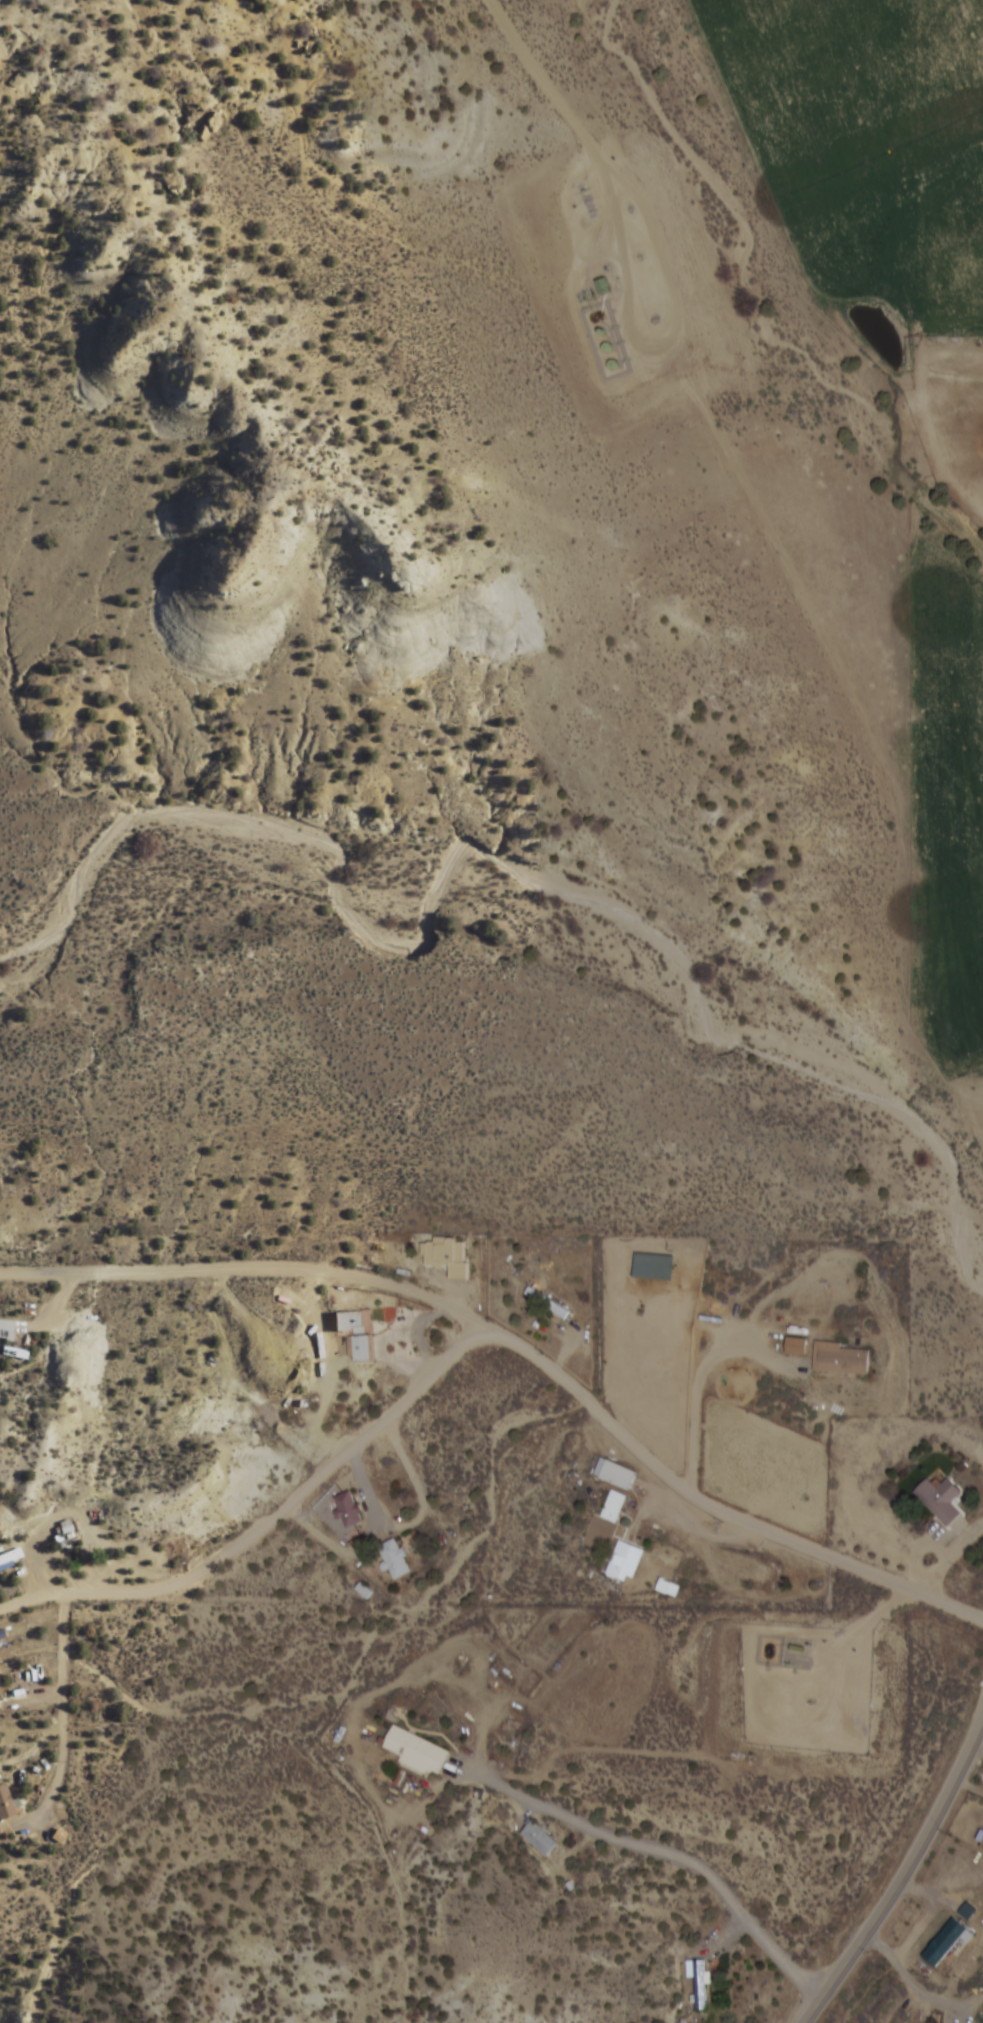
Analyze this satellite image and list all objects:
building: (856, 94)
river: (517, 931)
building: (448, 1256)
road: (249, 1266)
building: (654, 1266)
building: (548, 1302)
building: (7, 1329)
building: (358, 1332)
building: (797, 1347)
building: (842, 1359)
building: (615, 1475)
building: (940, 1500)
road: (714, 1507)
building: (614, 1508)
building: (349, 1510)
road: (267, 1518)
building: (11, 1558)
building: (396, 1560)
building: (624, 1561)
building: (797, 1659)
building: (418, 1752)
building: (6, 1803)
road: (608, 1828)
building: (540, 1838)
road: (903, 1875)
building: (948, 1941)
building: (699, 1982)

